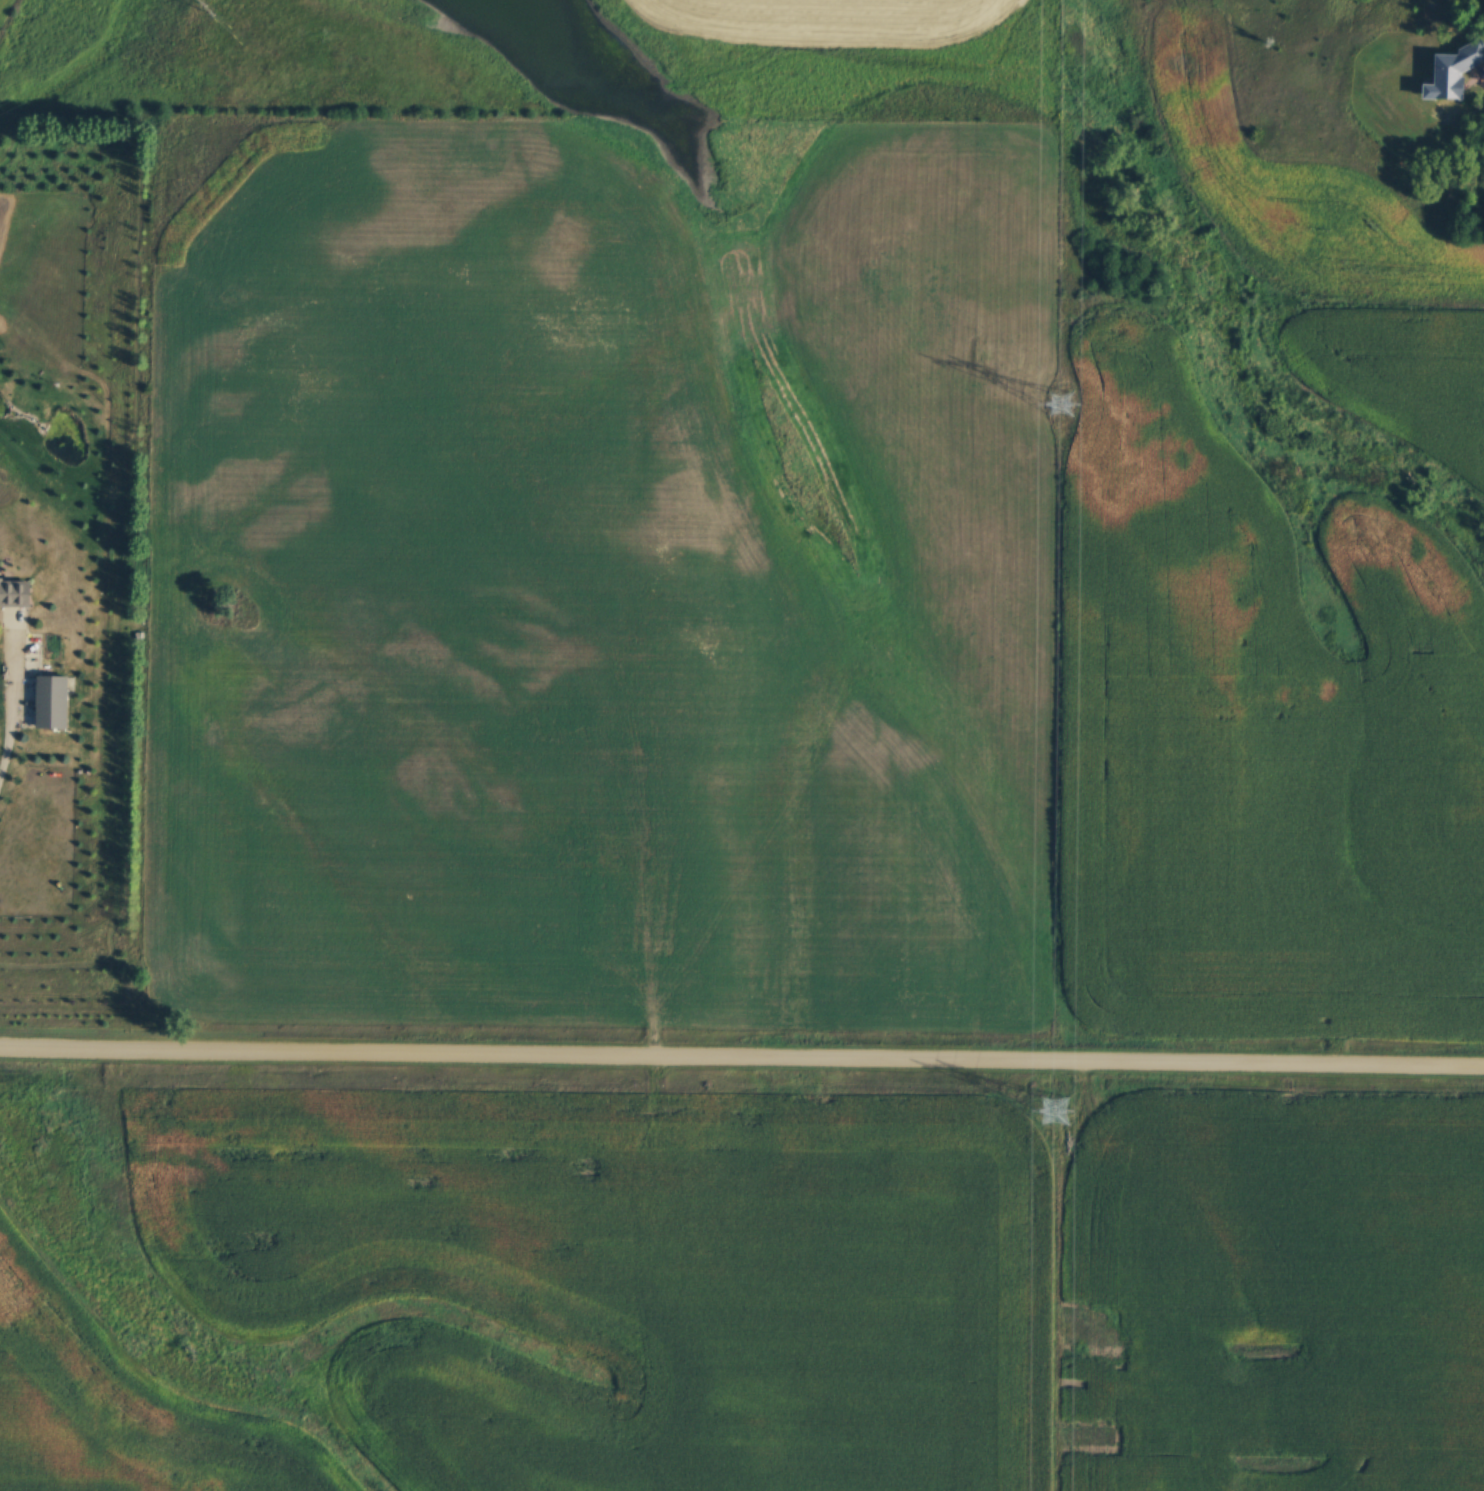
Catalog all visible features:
power tower: (203, 8)
power tower: (1058, 408)
building: (13, 597)
road: (4, 688)
building: (50, 705)
road: (742, 1058)
power tower: (1054, 1122)

